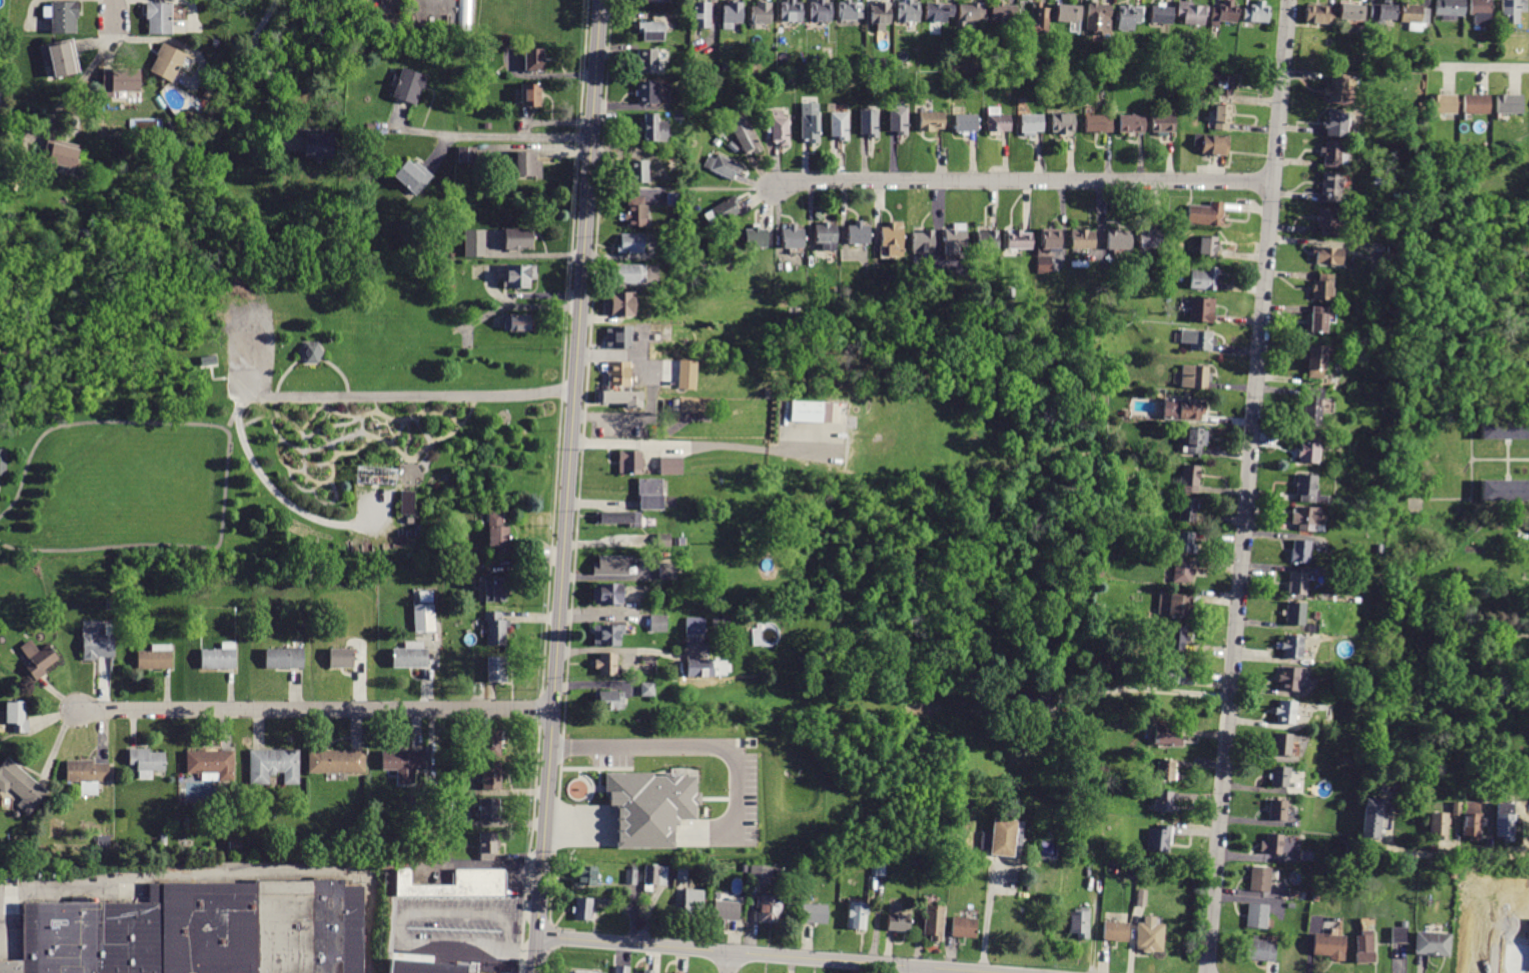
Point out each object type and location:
building: (656, 1)
building: (1449, 10)
building: (1512, 10)
building: (791, 11)
building: (820, 11)
building: (849, 11)
building: (908, 11)
building: (938, 12)
building: (1225, 12)
building: (1256, 12)
building: (1351, 12)
building: (1382, 12)
building: (1413, 12)
building: (1481, 12)
building: (880, 13)
building: (1192, 13)
building: (424, 14)
building: (731, 14)
building: (760, 14)
building: (969, 14)
building: (1067, 14)
building: (1161, 14)
building: (1318, 14)
building: (465, 15)
building: (701, 15)
building: (1003, 15)
building: (62, 17)
road: (113, 17)
building: (159, 17)
building: (1128, 17)
building: (1098, 18)
building: (1038, 20)
building: (651, 31)
building: (484, 50)
building: (60, 58)
building: (534, 60)
building: (646, 61)
building: (167, 62)
building: (905, 65)
road: (266, 68)
road: (1480, 68)
building: (120, 81)
building: (1174, 83)
building: (1, 84)
building: (409, 85)
building: (1224, 87)
road: (76, 88)
building: (1338, 88)
building: (647, 92)
building: (531, 95)
building: (1442, 104)
building: (1475, 104)
building: (1508, 104)
building: (1420, 107)
building: (1222, 116)
building: (898, 118)
building: (931, 121)
building: (809, 122)
building: (869, 122)
building: (997, 122)
building: (966, 123)
building: (1063, 123)
building: (1336, 123)
building: (1031, 124)
building: (1098, 124)
building: (1131, 124)
building: (1163, 124)
building: (839, 126)
building: (171, 127)
building: (369, 128)
building: (653, 128)
building: (780, 128)
building: (1412, 129)
road: (487, 132)
building: (743, 132)
building: (1212, 144)
building: (319, 145)
road: (537, 146)
building: (733, 147)
building: (60, 154)
building: (467, 155)
building: (1334, 155)
building: (527, 164)
building: (722, 166)
building: (1410, 168)
building: (638, 172)
building: (413, 177)
road: (1025, 182)
building: (1332, 187)
building: (634, 212)
building: (723, 212)
building: (1205, 214)
building: (1328, 222)
building: (858, 233)
building: (791, 236)
building: (826, 236)
building: (755, 237)
building: (893, 238)
building: (1149, 238)
building: (518, 239)
building: (922, 239)
building: (954, 239)
building: (987, 239)
building: (1018, 239)
building: (1083, 239)
building: (1119, 239)
building: (1051, 240)
building: (686, 241)
building: (1209, 243)
building: (475, 244)
building: (630, 244)
building: (339, 248)
building: (1395, 252)
building: (1328, 256)
building: (1043, 265)
building: (629, 275)
building: (519, 276)
building: (1203, 279)
building: (1323, 287)
building: (452, 290)
building: (1009, 294)
building: (620, 305)
building: (1201, 309)
building: (1321, 318)
building: (519, 323)
building: (619, 337)
building: (1197, 339)
building: (311, 351)
building: (1318, 360)
building: (618, 373)
building: (686, 373)
building: (1195, 376)
building: (671, 380)
road: (289, 398)
building: (621, 398)
park: (248, 403)
building: (1313, 408)
building: (1184, 409)
building: (806, 412)
road: (236, 414)
building: (1505, 429)
building: (1197, 440)
building: (1115, 441)
building: (1308, 449)
road: (230, 454)
building: (3, 462)
building: (629, 463)
building: (670, 466)
building: (374, 473)
building: (1190, 478)
road: (567, 486)
road: (1246, 486)
building: (1306, 488)
building: (1504, 490)
building: (650, 494)
building: (407, 503)
building: (1187, 509)
building: (1305, 518)
building: (619, 519)
building: (1524, 523)
building: (497, 533)
building: (663, 540)
building: (1183, 542)
building: (1378, 549)
building: (1299, 552)
building: (612, 565)
building: (437, 567)
park: (646, 568)
building: (669, 571)
building: (1181, 571)
building: (1296, 583)
building: (495, 590)
building: (607, 593)
building: (1204, 593)
building: (110, 603)
building: (1179, 605)
building: (1294, 613)
building: (425, 618)
building: (720, 622)
building: (658, 624)
building: (695, 626)
building: (496, 628)
building: (608, 635)
building: (1176, 638)
building: (96, 645)
building: (1291, 647)
building: (411, 656)
building: (219, 657)
building: (156, 658)
building: (285, 658)
building: (346, 658)
building: (38, 659)
building: (646, 662)
building: (607, 665)
building: (699, 668)
building: (496, 669)
building: (1170, 674)
building: (1288, 679)
building: (647, 689)
road: (1158, 689)
building: (1524, 694)
building: (1033, 700)
building: (608, 701)
road: (313, 710)
building: (1285, 712)
building: (17, 717)
building: (1166, 735)
building: (491, 743)
building: (1282, 744)
road: (688, 746)
building: (337, 761)
building: (147, 762)
building: (211, 763)
building: (403, 764)
building: (274, 766)
building: (1165, 769)
building: (87, 775)
building: (1280, 775)
building: (491, 776)
building: (1408, 783)
building: (430, 784)
building: (20, 785)
building: (1163, 801)
building: (649, 806)
building: (488, 809)
building: (955, 809)
building: (1278, 809)
building: (1455, 809)
building: (1372, 818)
building: (1472, 820)
building: (1505, 822)
building: (955, 826)
building: (1439, 826)
building: (1002, 837)
building: (1159, 838)
building: (382, 840)
building: (104, 843)
building: (1272, 844)
building: (235, 845)
building: (299, 845)
building: (488, 846)
building: (1307, 856)
road: (1442, 856)
building: (978, 867)
building: (744, 868)
building: (878, 869)
building: (682, 873)
building: (585, 875)
building: (656, 875)
building: (760, 875)
building: (1453, 875)
building: (631, 877)
building: (1259, 879)
building: (454, 885)
building: (1462, 888)
road: (67, 889)
building: (1293, 894)
building: (1141, 898)
building: (692, 904)
building: (1291, 905)
building: (584, 909)
building: (769, 909)
building: (725, 910)
building: (814, 914)
building: (857, 915)
building: (1256, 916)
road: (984, 920)
building: (934, 922)
building: (898, 923)
building: (1079, 923)
road: (400, 927)
building: (964, 927)
building: (201, 931)
building: (1116, 931)
parking lot: (461, 932)
building: (1400, 934)
building: (1149, 935)
building: (1433, 944)
building: (1329, 946)
building: (1364, 948)
building: (1259, 950)
road: (765, 955)
road: (727, 963)
building: (426, 967)
building: (621, 969)
road: (920, 970)
building: (648, 971)
building: (580, 972)
building: (635, 972)
building: (676, 972)

